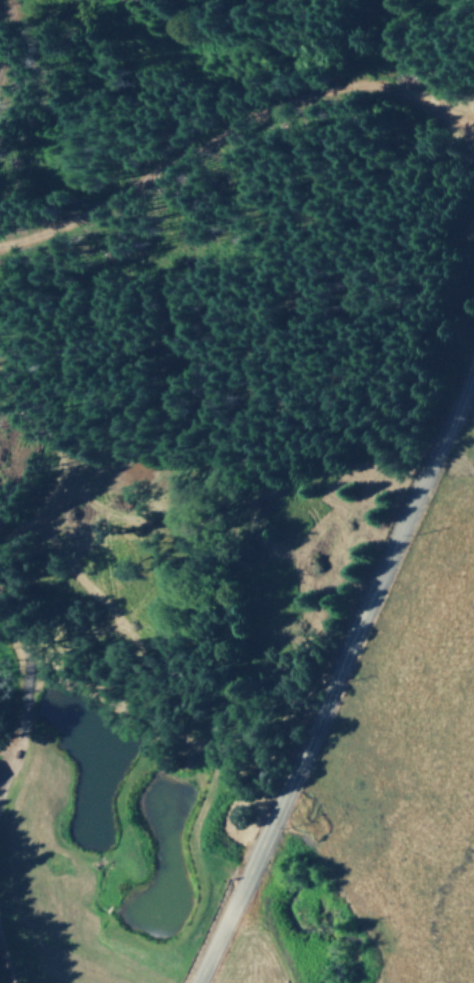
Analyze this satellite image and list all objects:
road: (417, 63)
road: (332, 674)

